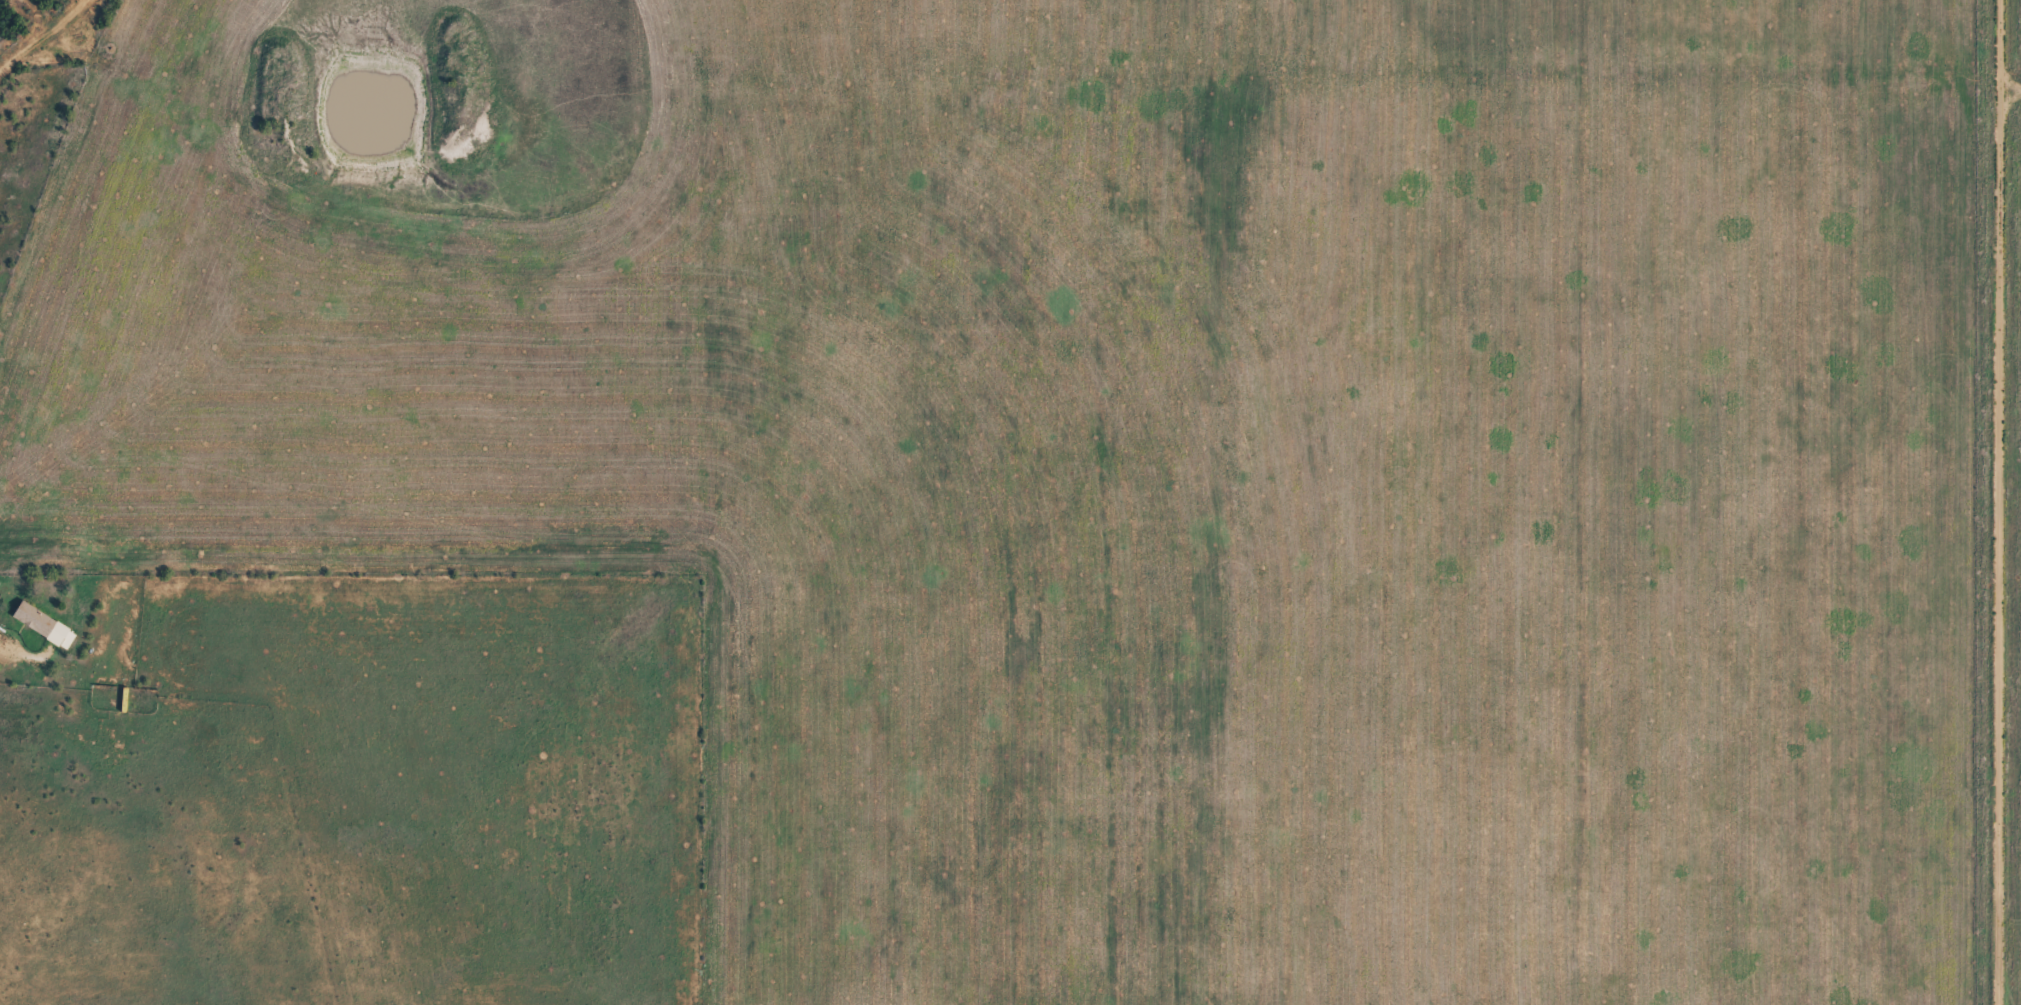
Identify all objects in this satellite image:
road: (2004, 502)
building: (48, 621)
road: (17, 650)

